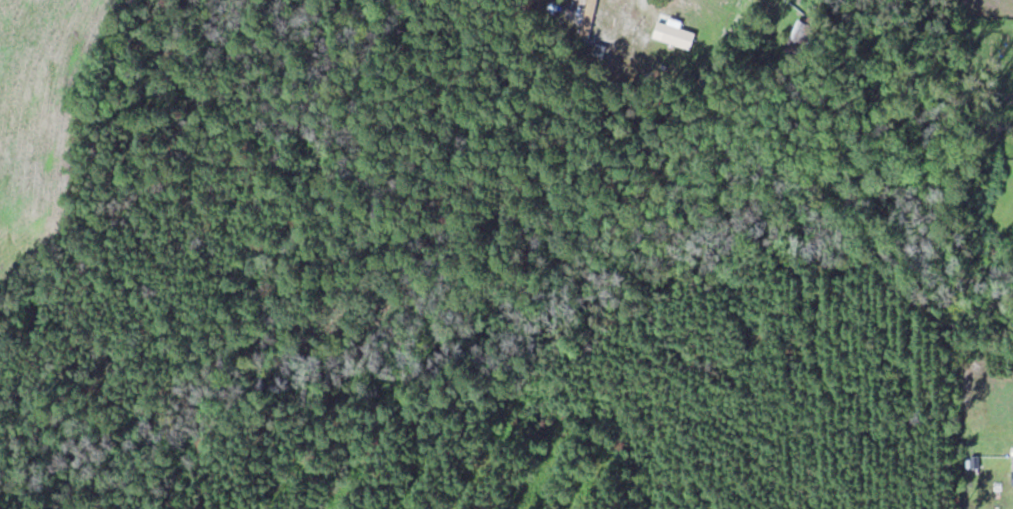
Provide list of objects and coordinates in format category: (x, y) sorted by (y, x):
building: (590, 18)
building: (680, 35)
building: (800, 37)

